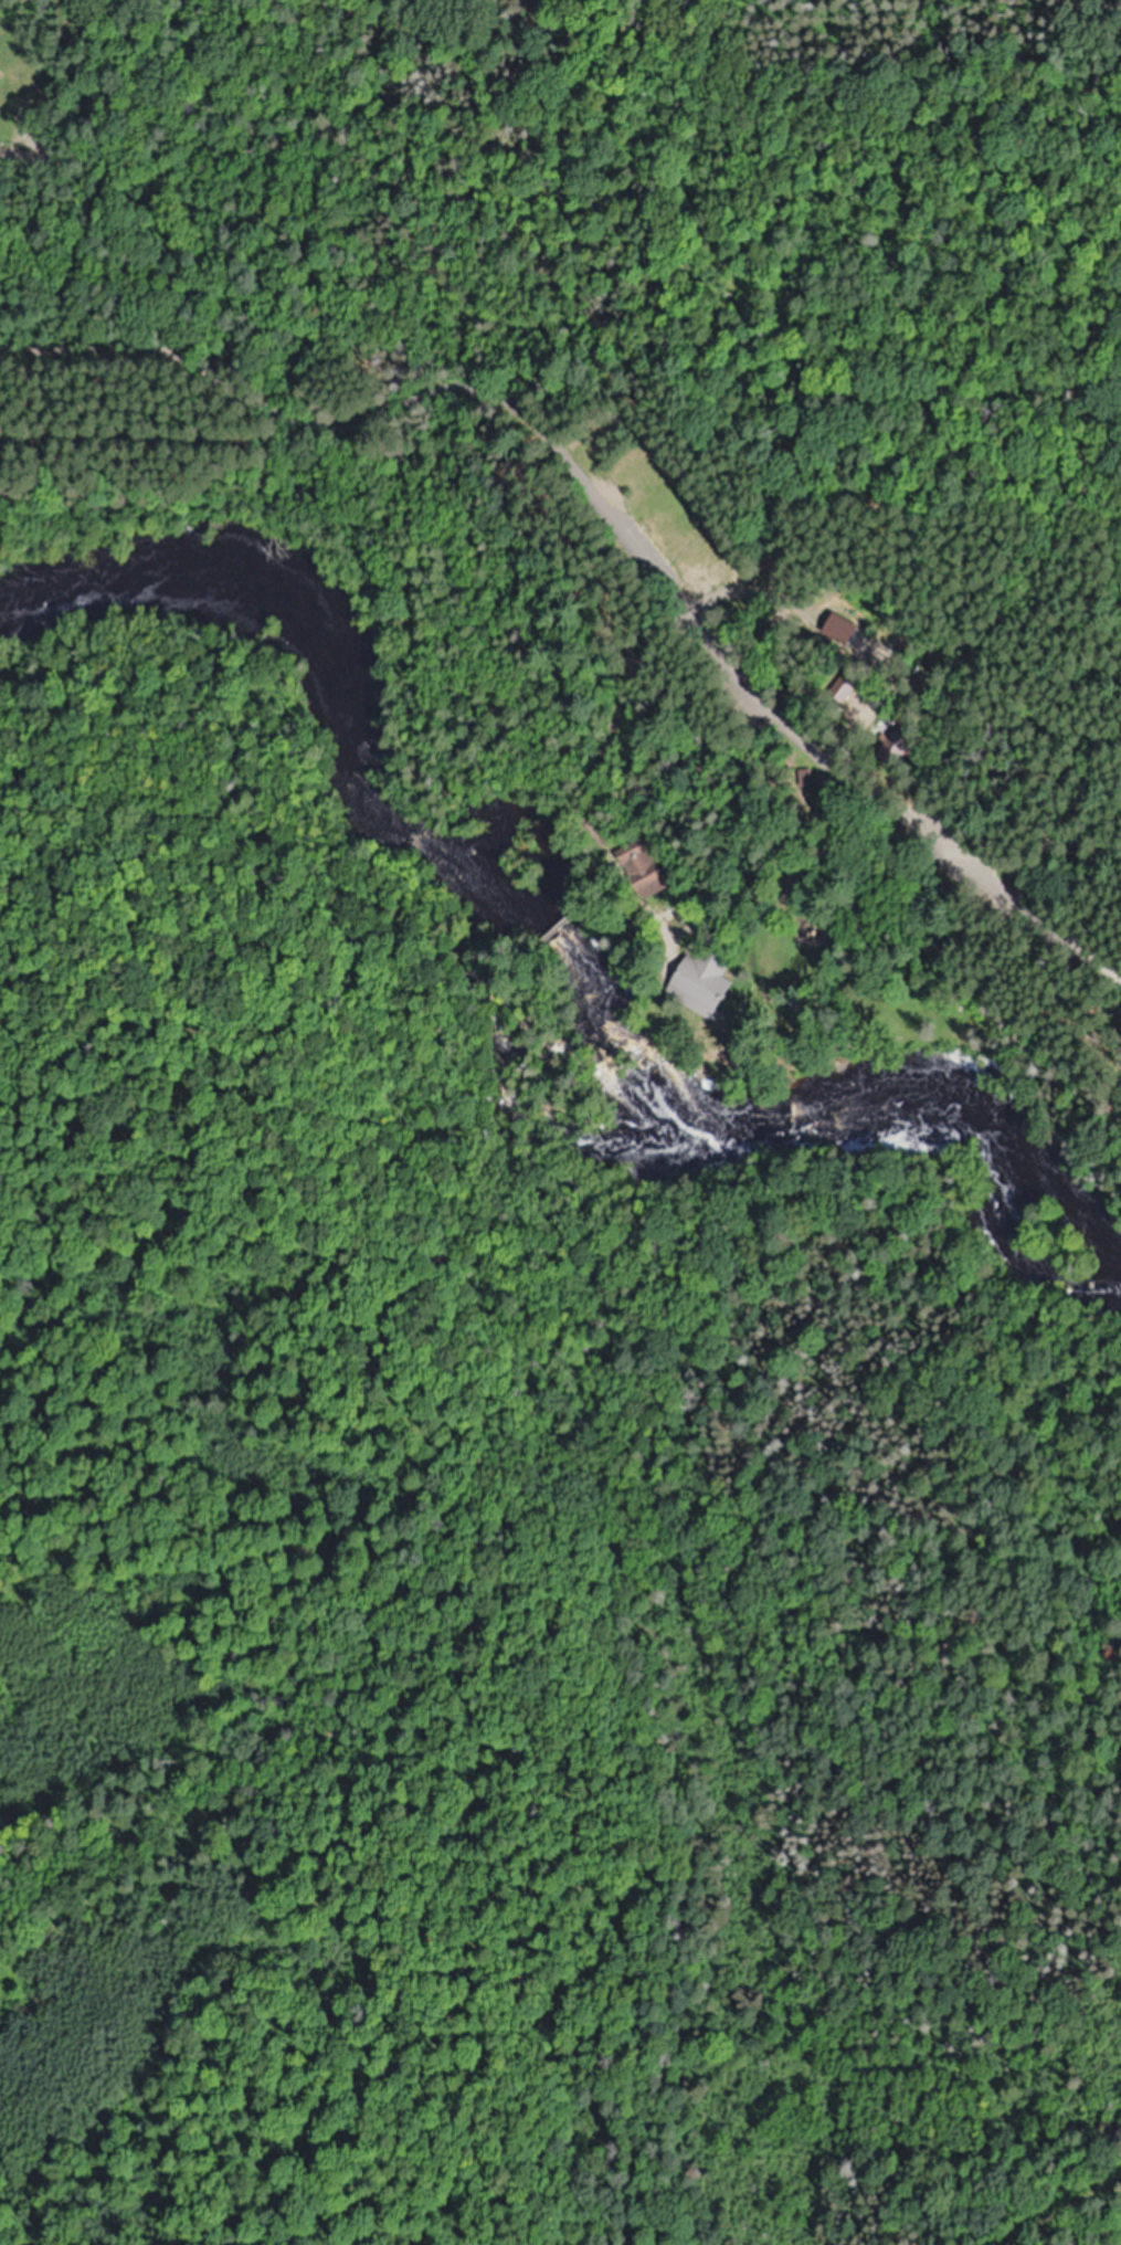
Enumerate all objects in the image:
road: (92, 238)
park: (567, 486)
road: (614, 520)
building: (846, 682)
building: (902, 741)
building: (644, 868)
river: (553, 921)
building: (702, 980)

